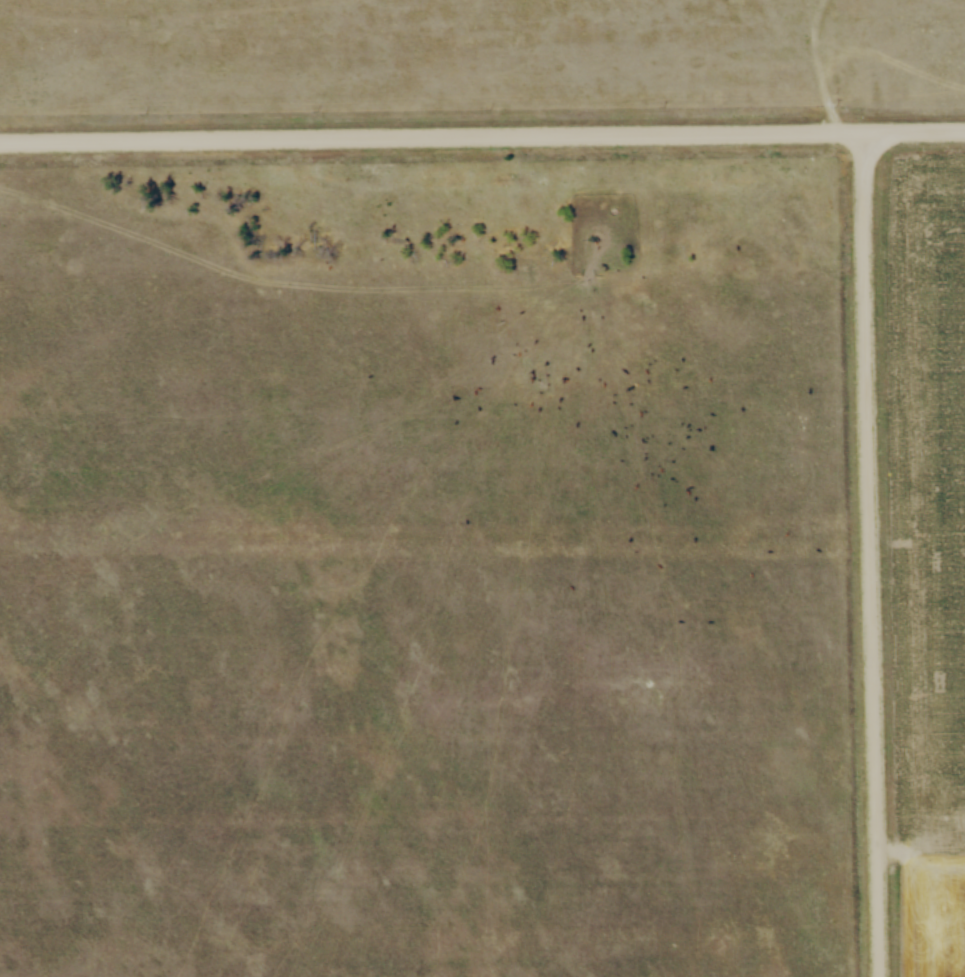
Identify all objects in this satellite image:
road: (913, 132)
road: (430, 139)
road: (871, 554)

